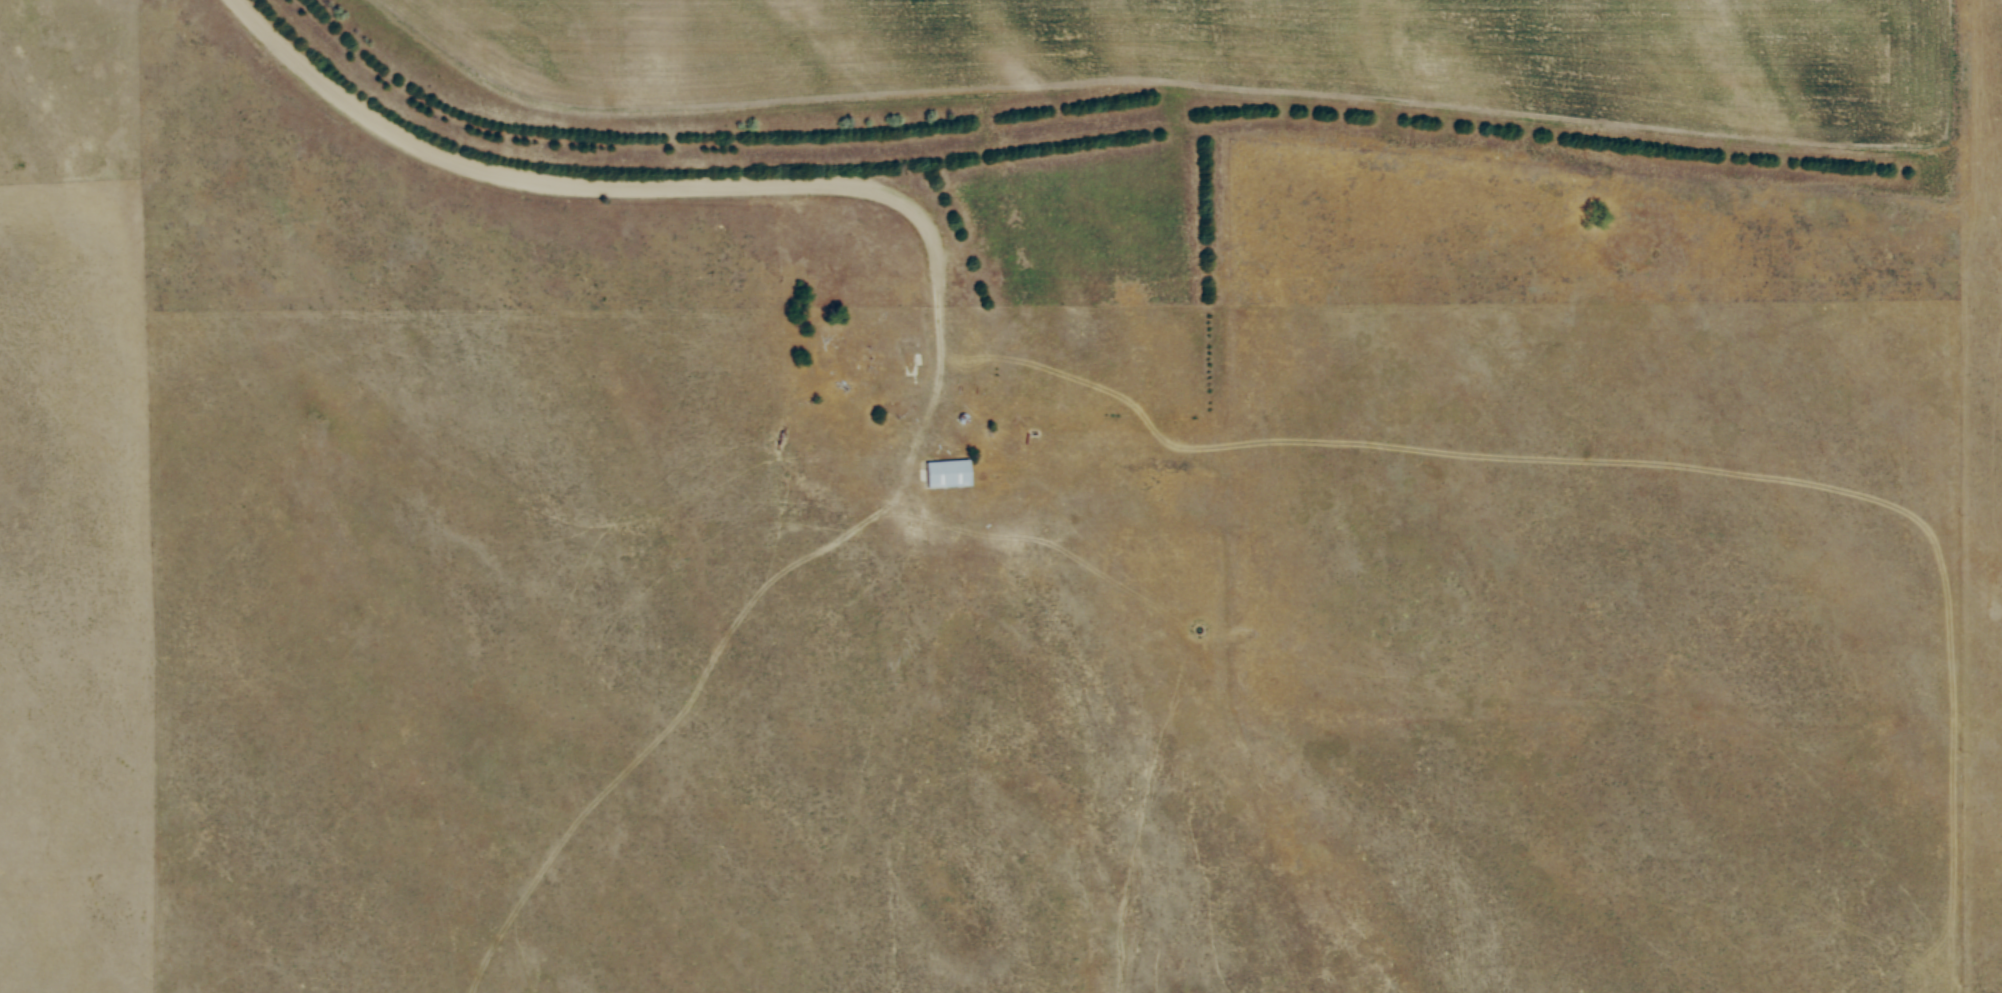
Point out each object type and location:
road: (511, 177)
road: (937, 269)
building: (946, 473)

